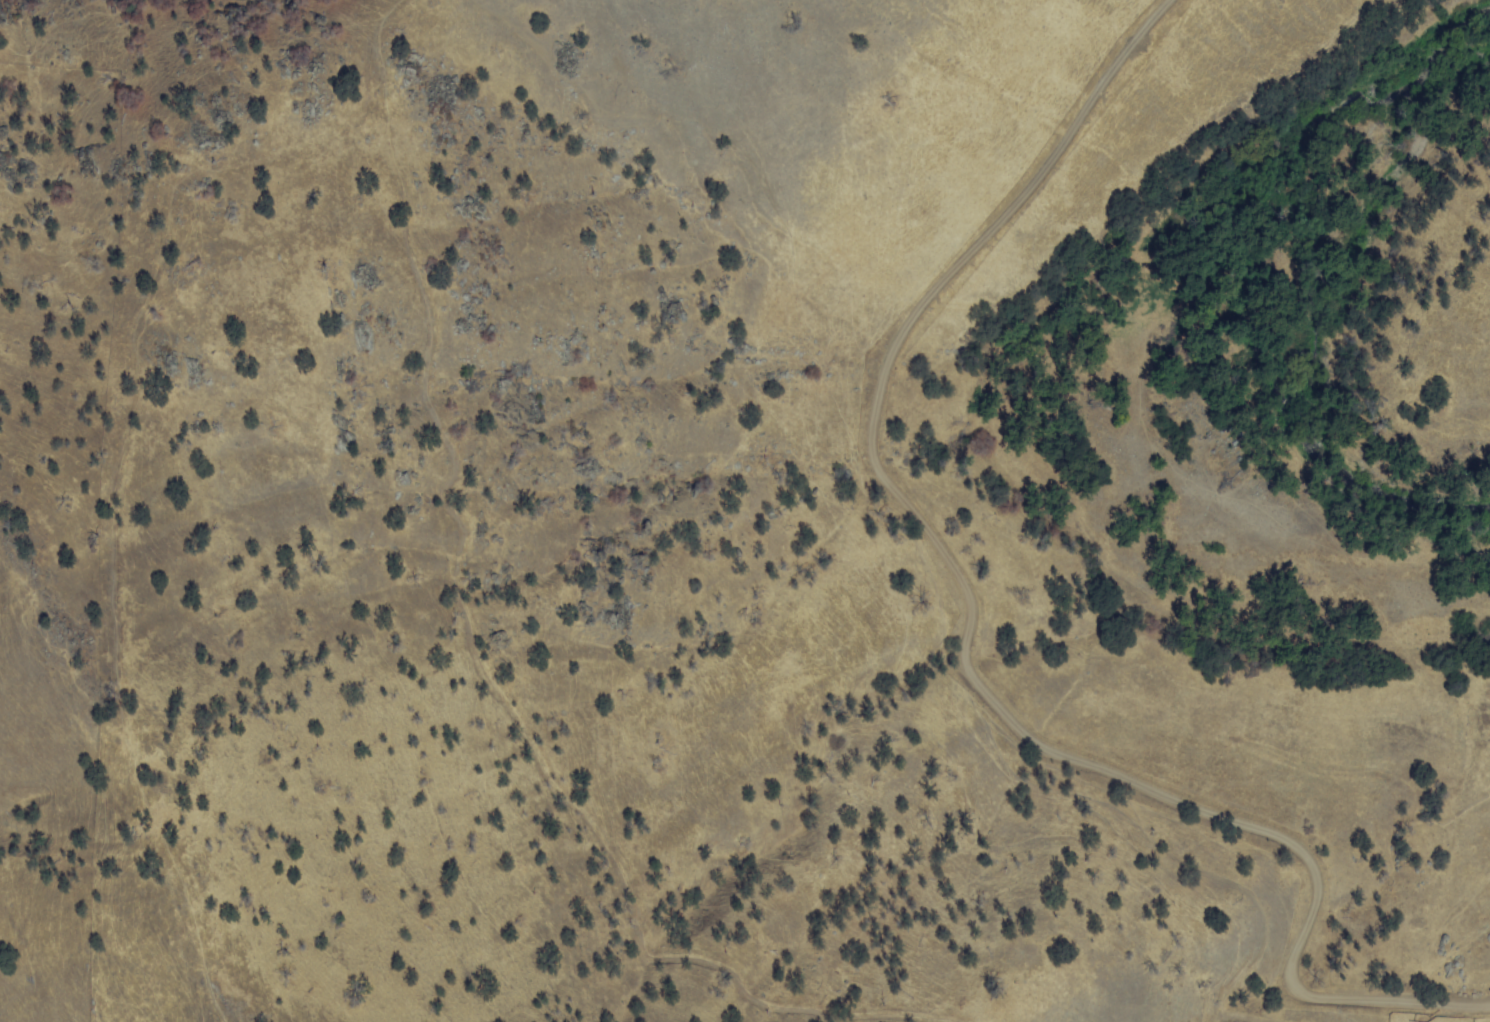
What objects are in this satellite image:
road: (941, 611)

